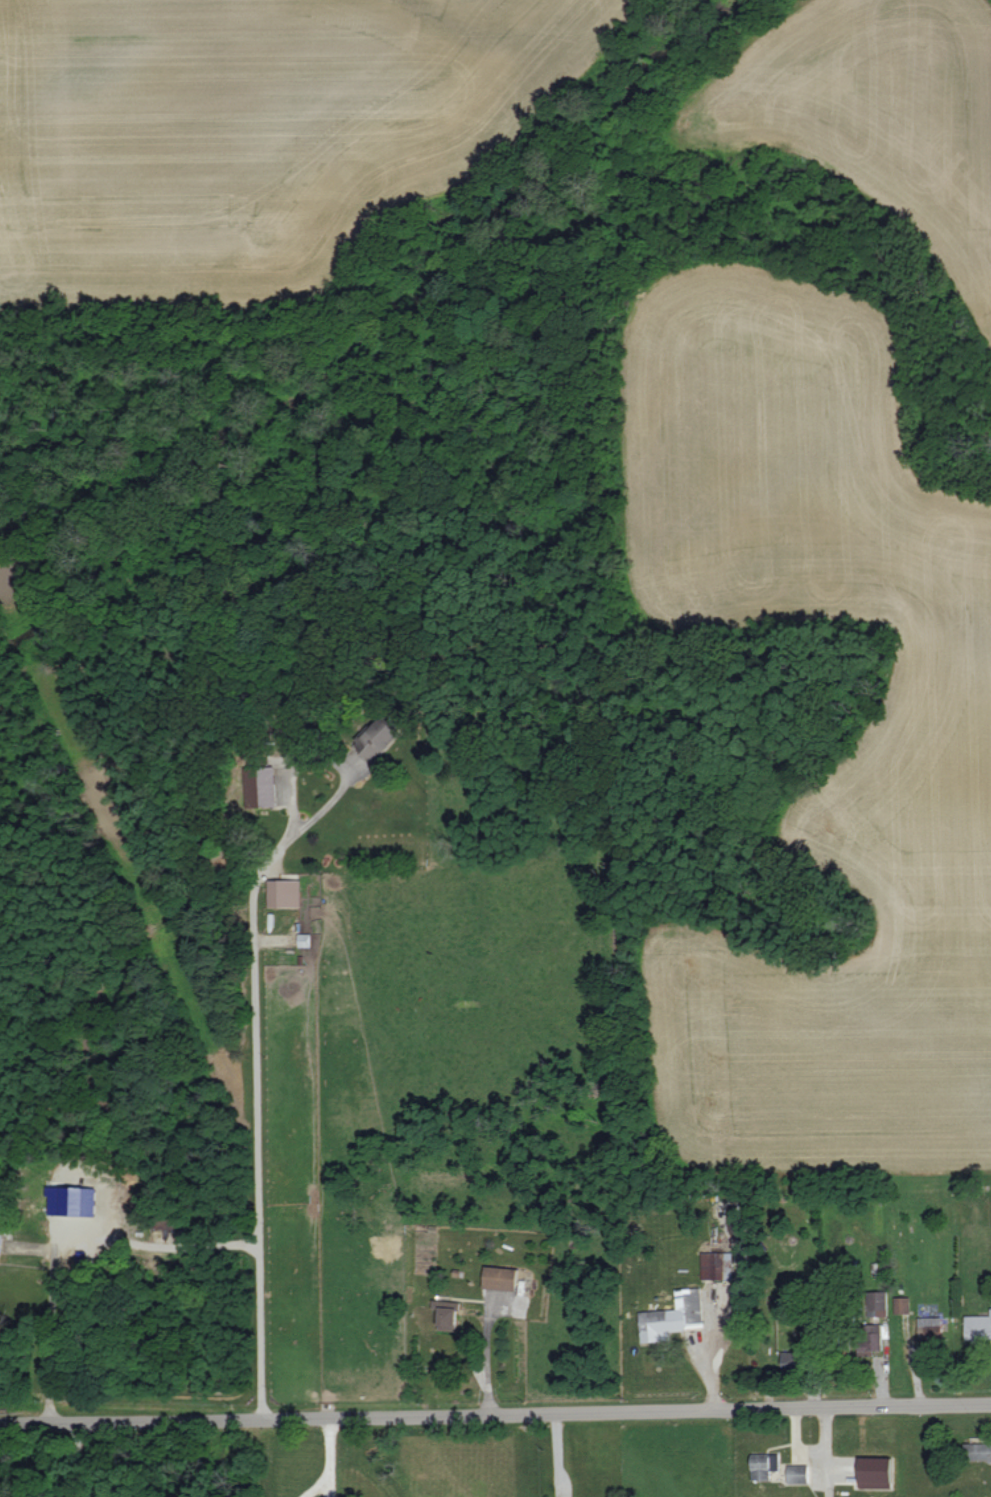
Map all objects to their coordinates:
building: (376, 738)
building: (284, 893)
building: (304, 939)
road: (261, 1143)
building: (169, 1222)
building: (0, 1243)
building: (717, 1265)
building: (500, 1277)
building: (879, 1303)
building: (901, 1305)
building: (447, 1314)
building: (673, 1316)
building: (978, 1327)
building: (929, 1328)
building: (795, 1359)
road: (495, 1420)
building: (979, 1451)
road: (332, 1460)
building: (764, 1464)
building: (875, 1472)
building: (798, 1473)

